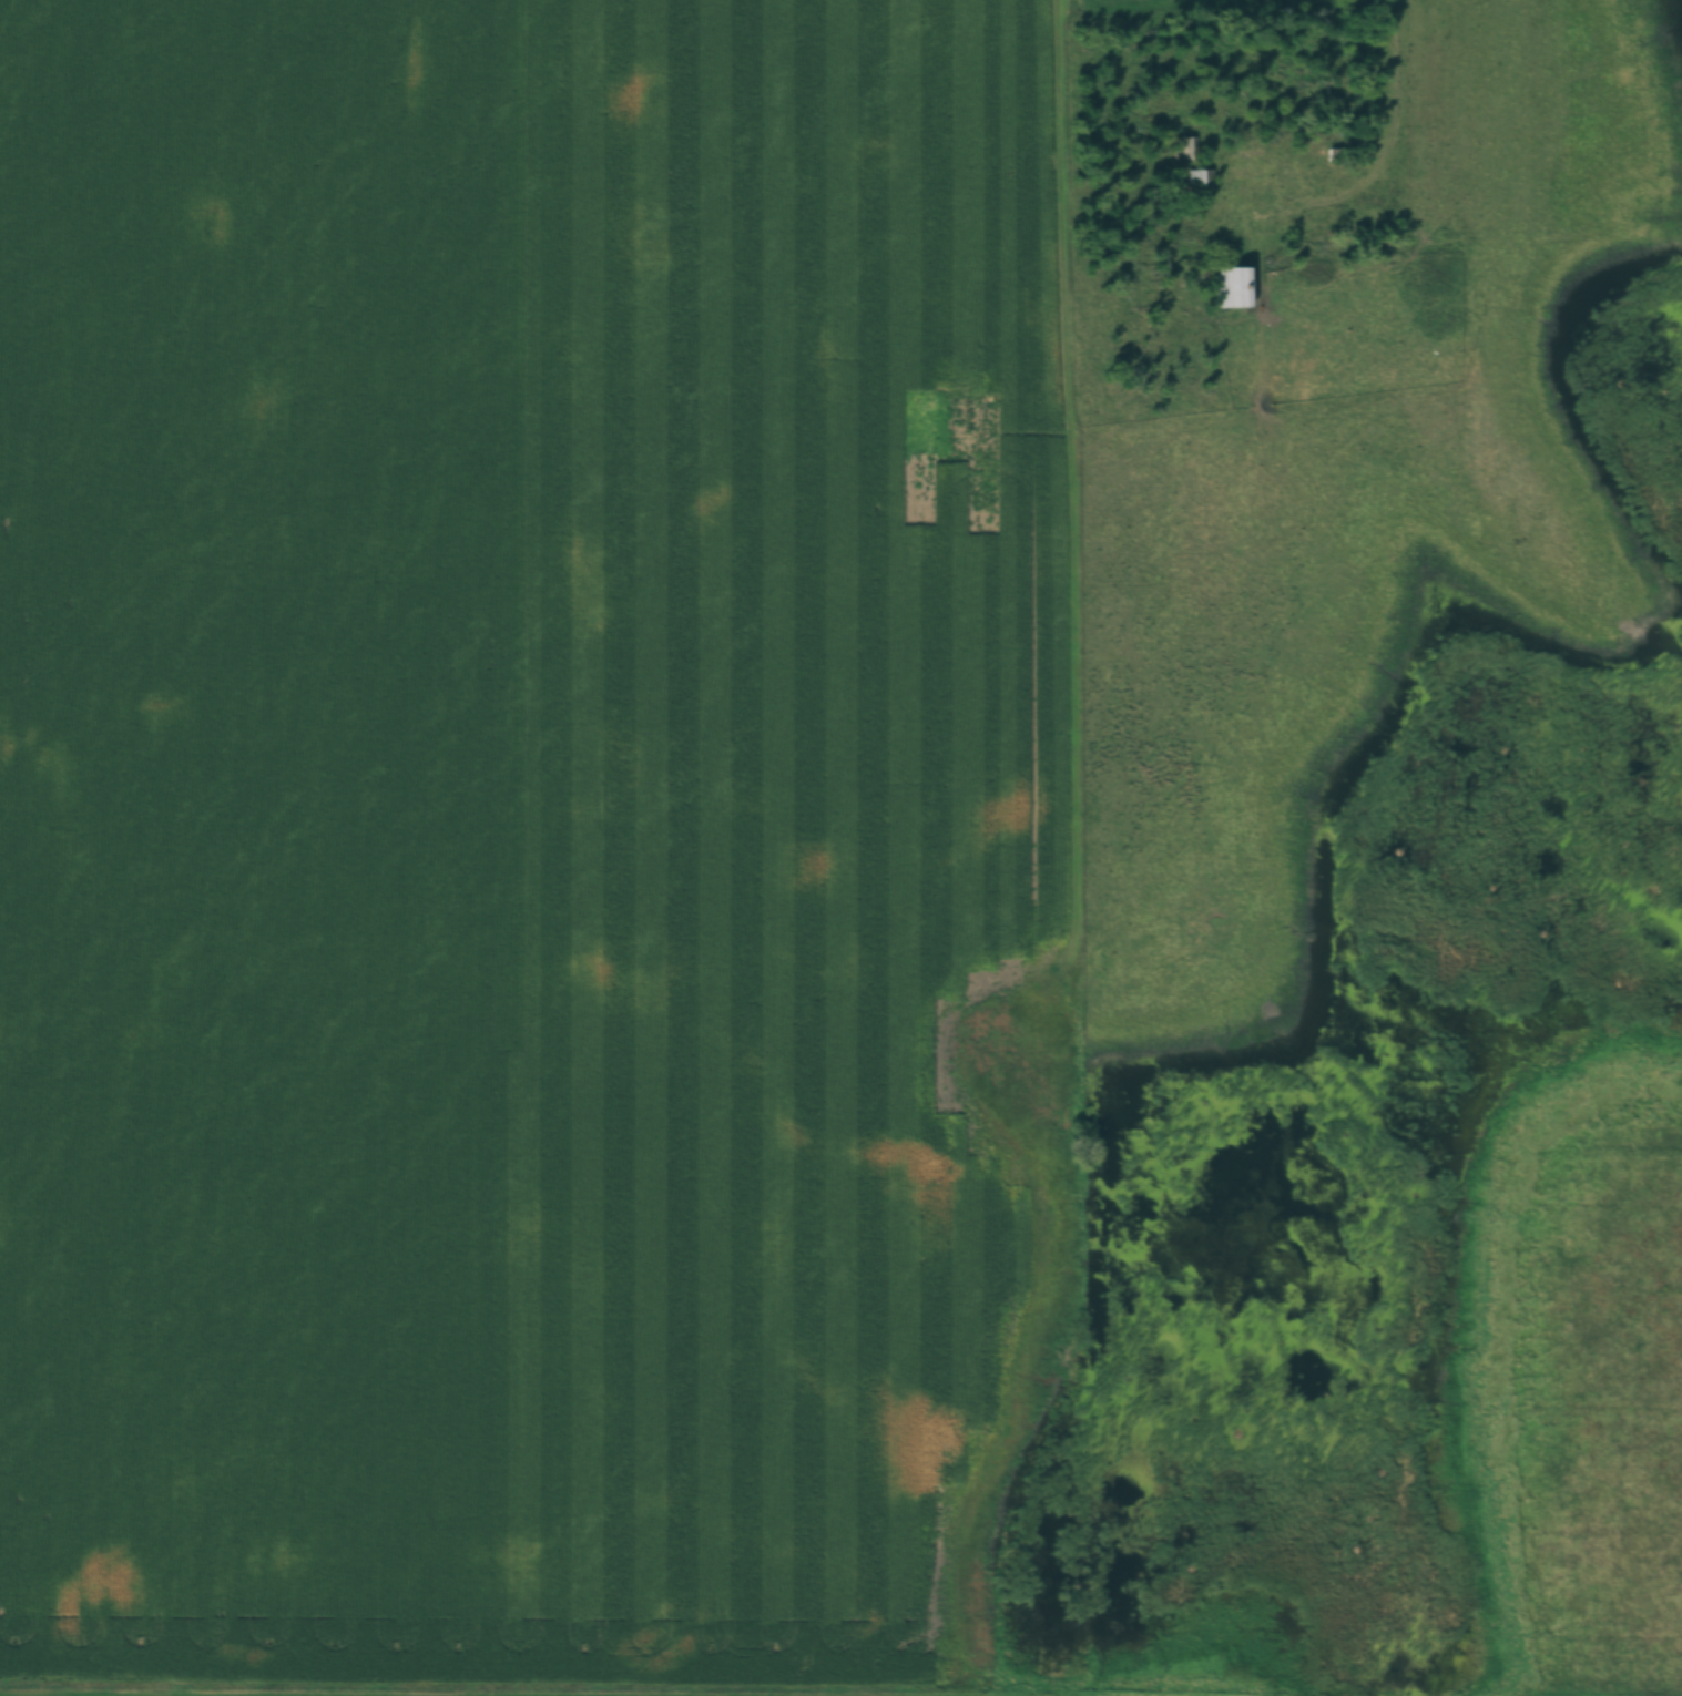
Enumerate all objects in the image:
road: (1384, 76)
building: (1184, 149)
building: (1199, 181)
building: (1231, 286)

